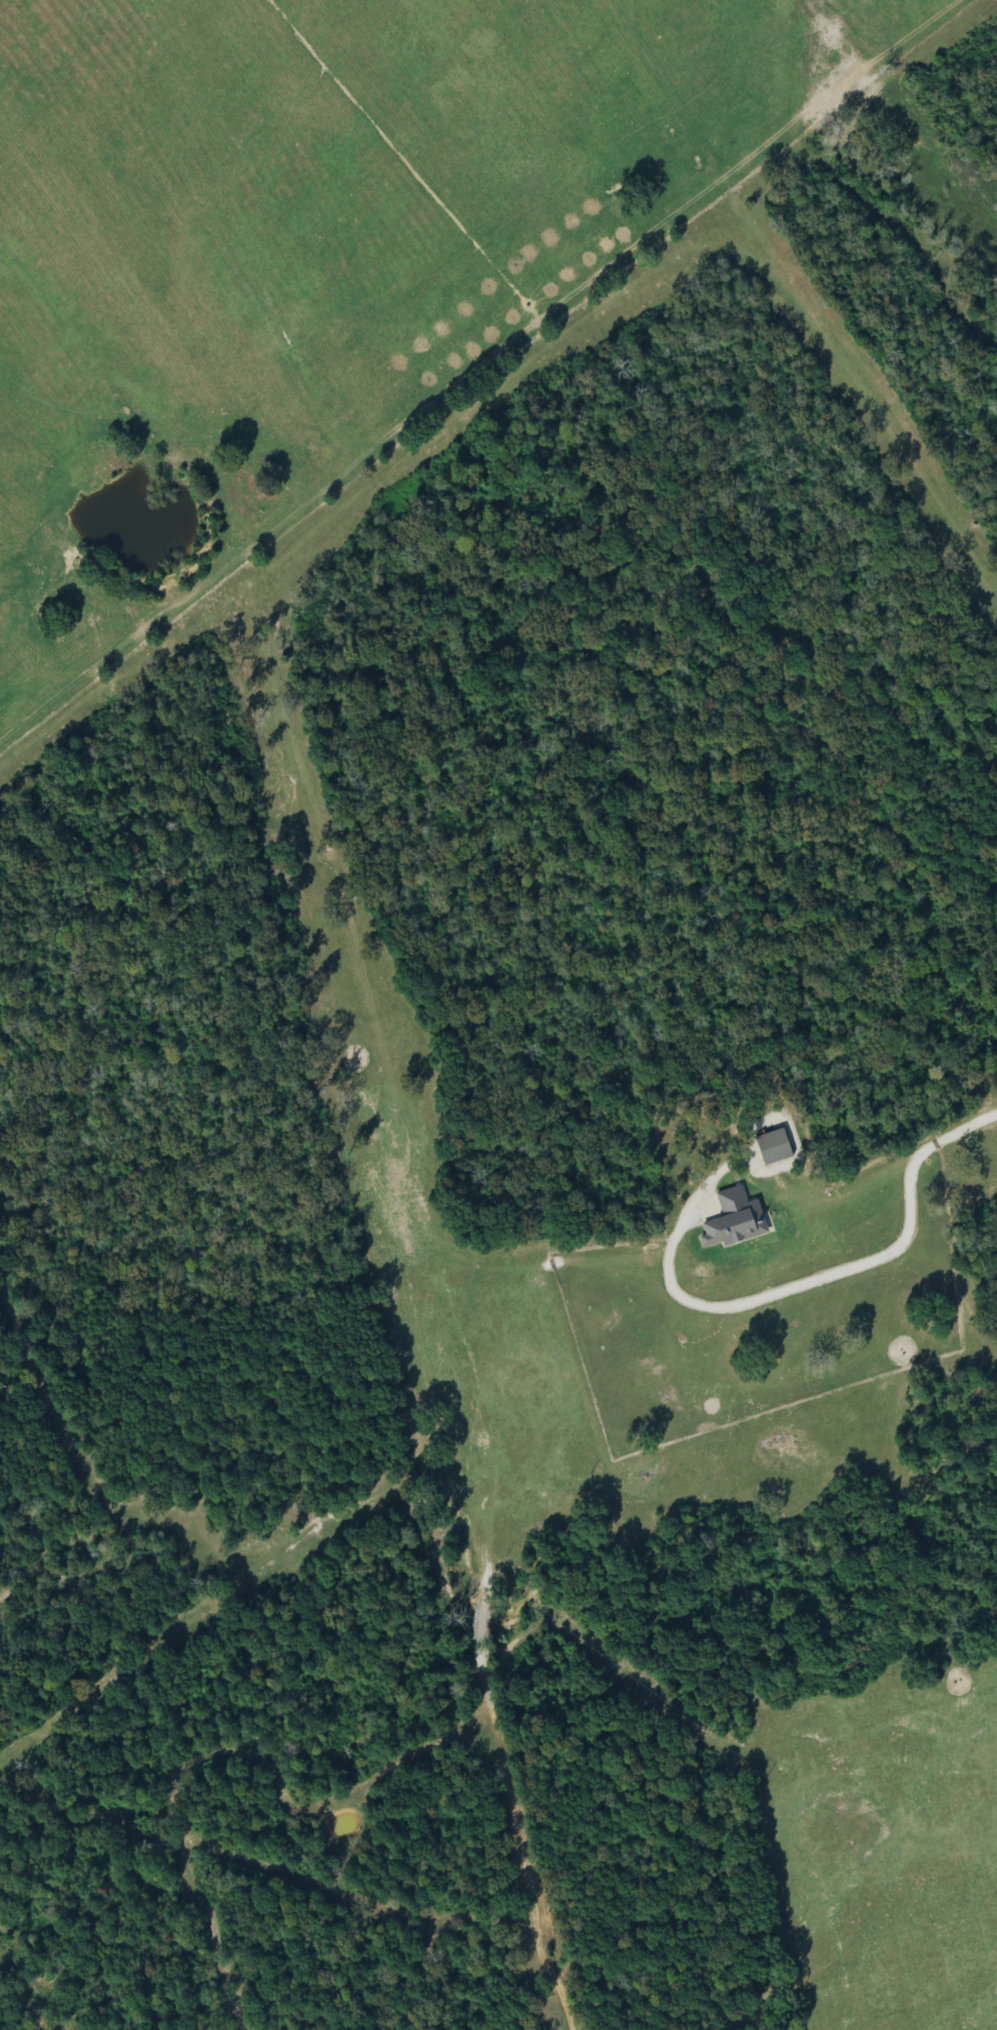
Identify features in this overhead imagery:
road: (346, 957)
building: (775, 1148)
road: (925, 1874)

